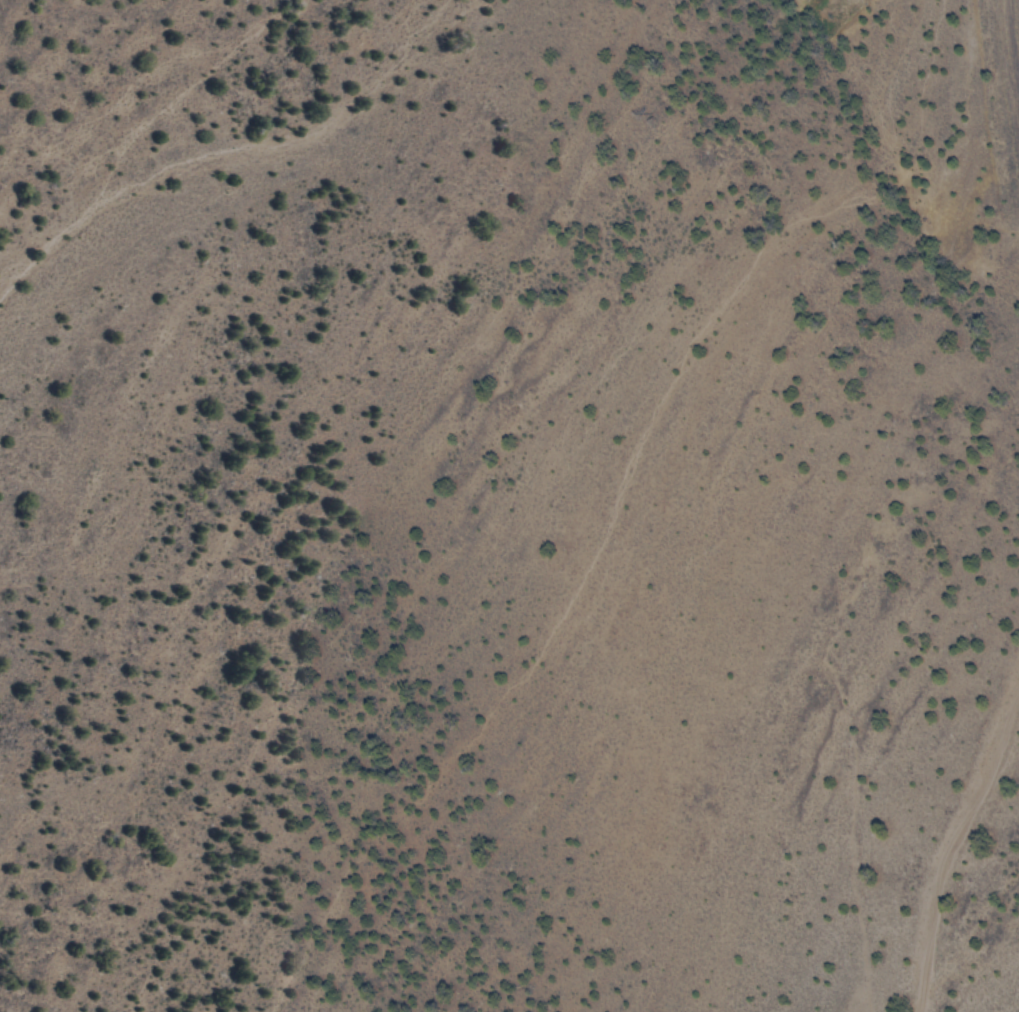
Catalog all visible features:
road: (1014, 31)
road: (949, 843)

